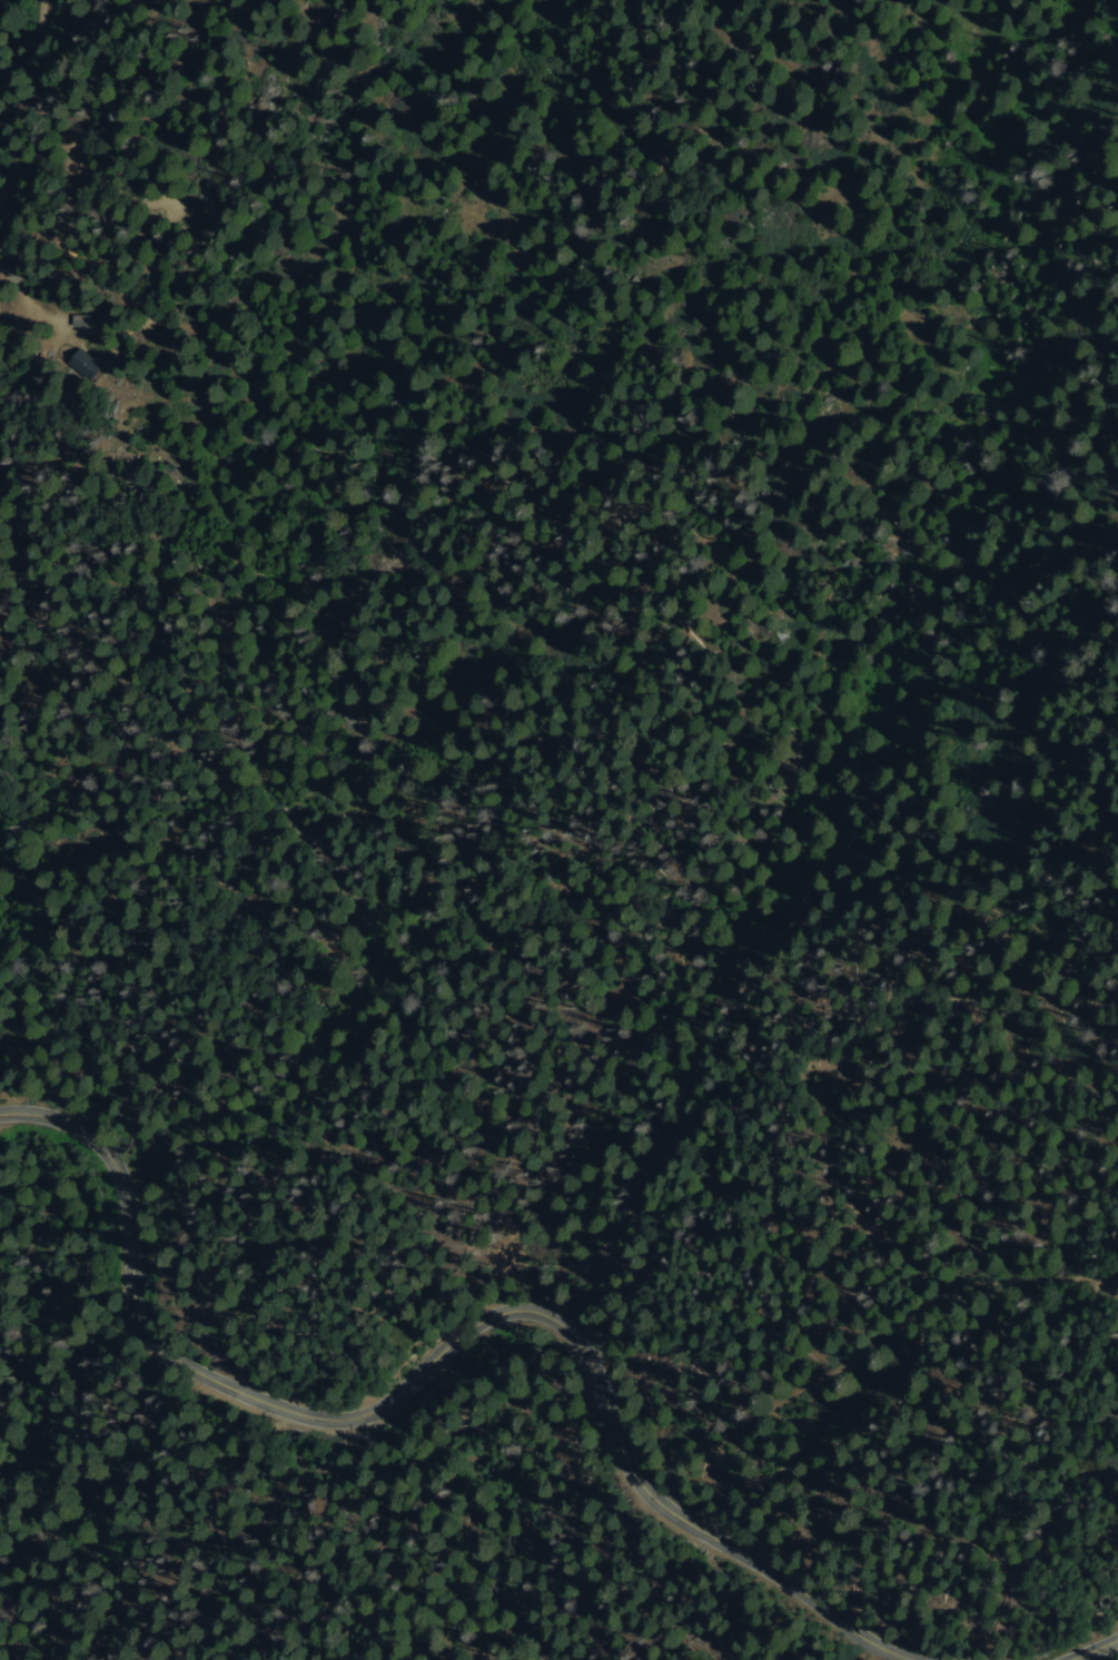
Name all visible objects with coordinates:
building: (81, 322)
road: (438, 1350)
road: (1092, 1649)

